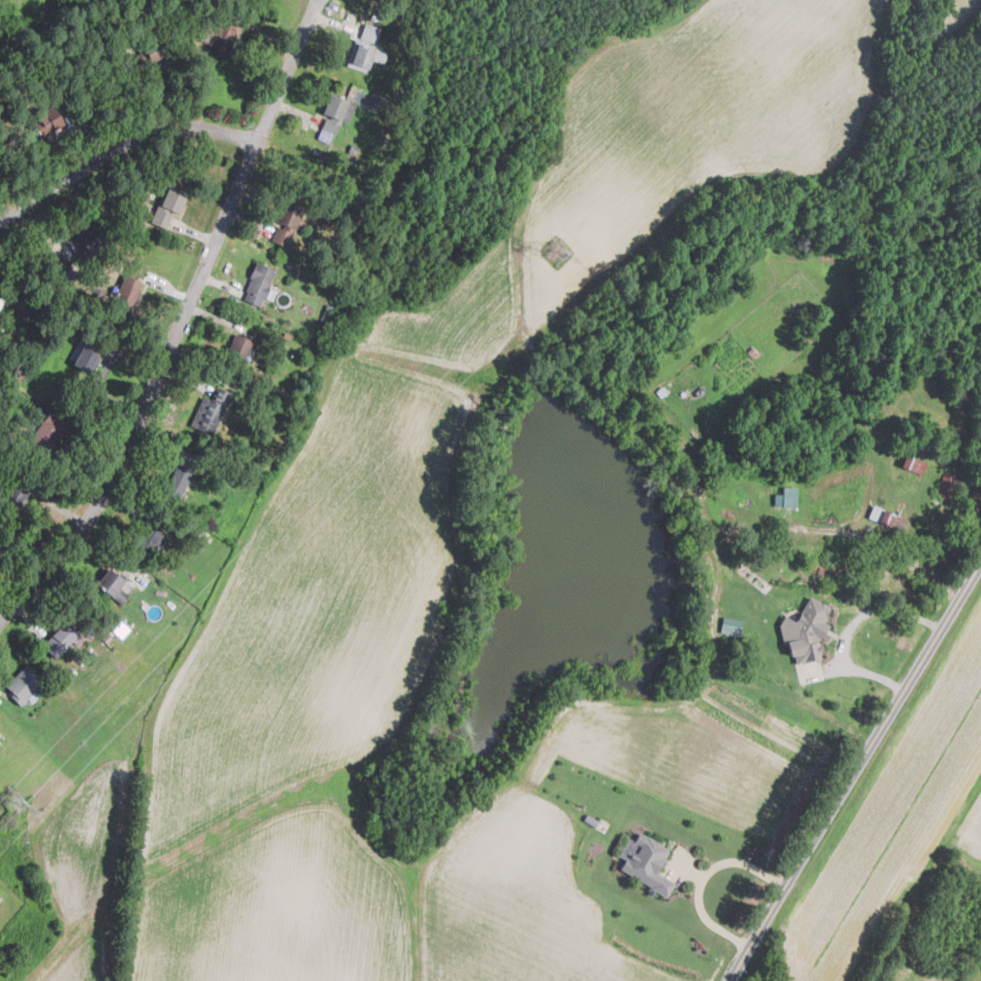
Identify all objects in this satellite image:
building: (224, 35)
building: (365, 47)
building: (154, 48)
road: (290, 70)
building: (335, 116)
building: (45, 120)
road: (189, 126)
building: (167, 205)
building: (285, 221)
building: (90, 238)
power tower: (555, 250)
building: (257, 283)
building: (125, 296)
building: (22, 305)
building: (238, 345)
building: (88, 354)
road: (154, 394)
building: (209, 411)
building: (45, 433)
building: (913, 464)
building: (177, 483)
building: (946, 483)
building: (15, 490)
building: (786, 497)
building: (887, 518)
building: (145, 538)
building: (110, 583)
building: (731, 625)
road: (849, 625)
building: (805, 630)
building: (59, 640)
building: (23, 685)
building: (0, 726)
road: (860, 775)
power tower: (12, 805)
building: (648, 863)
road: (699, 881)

